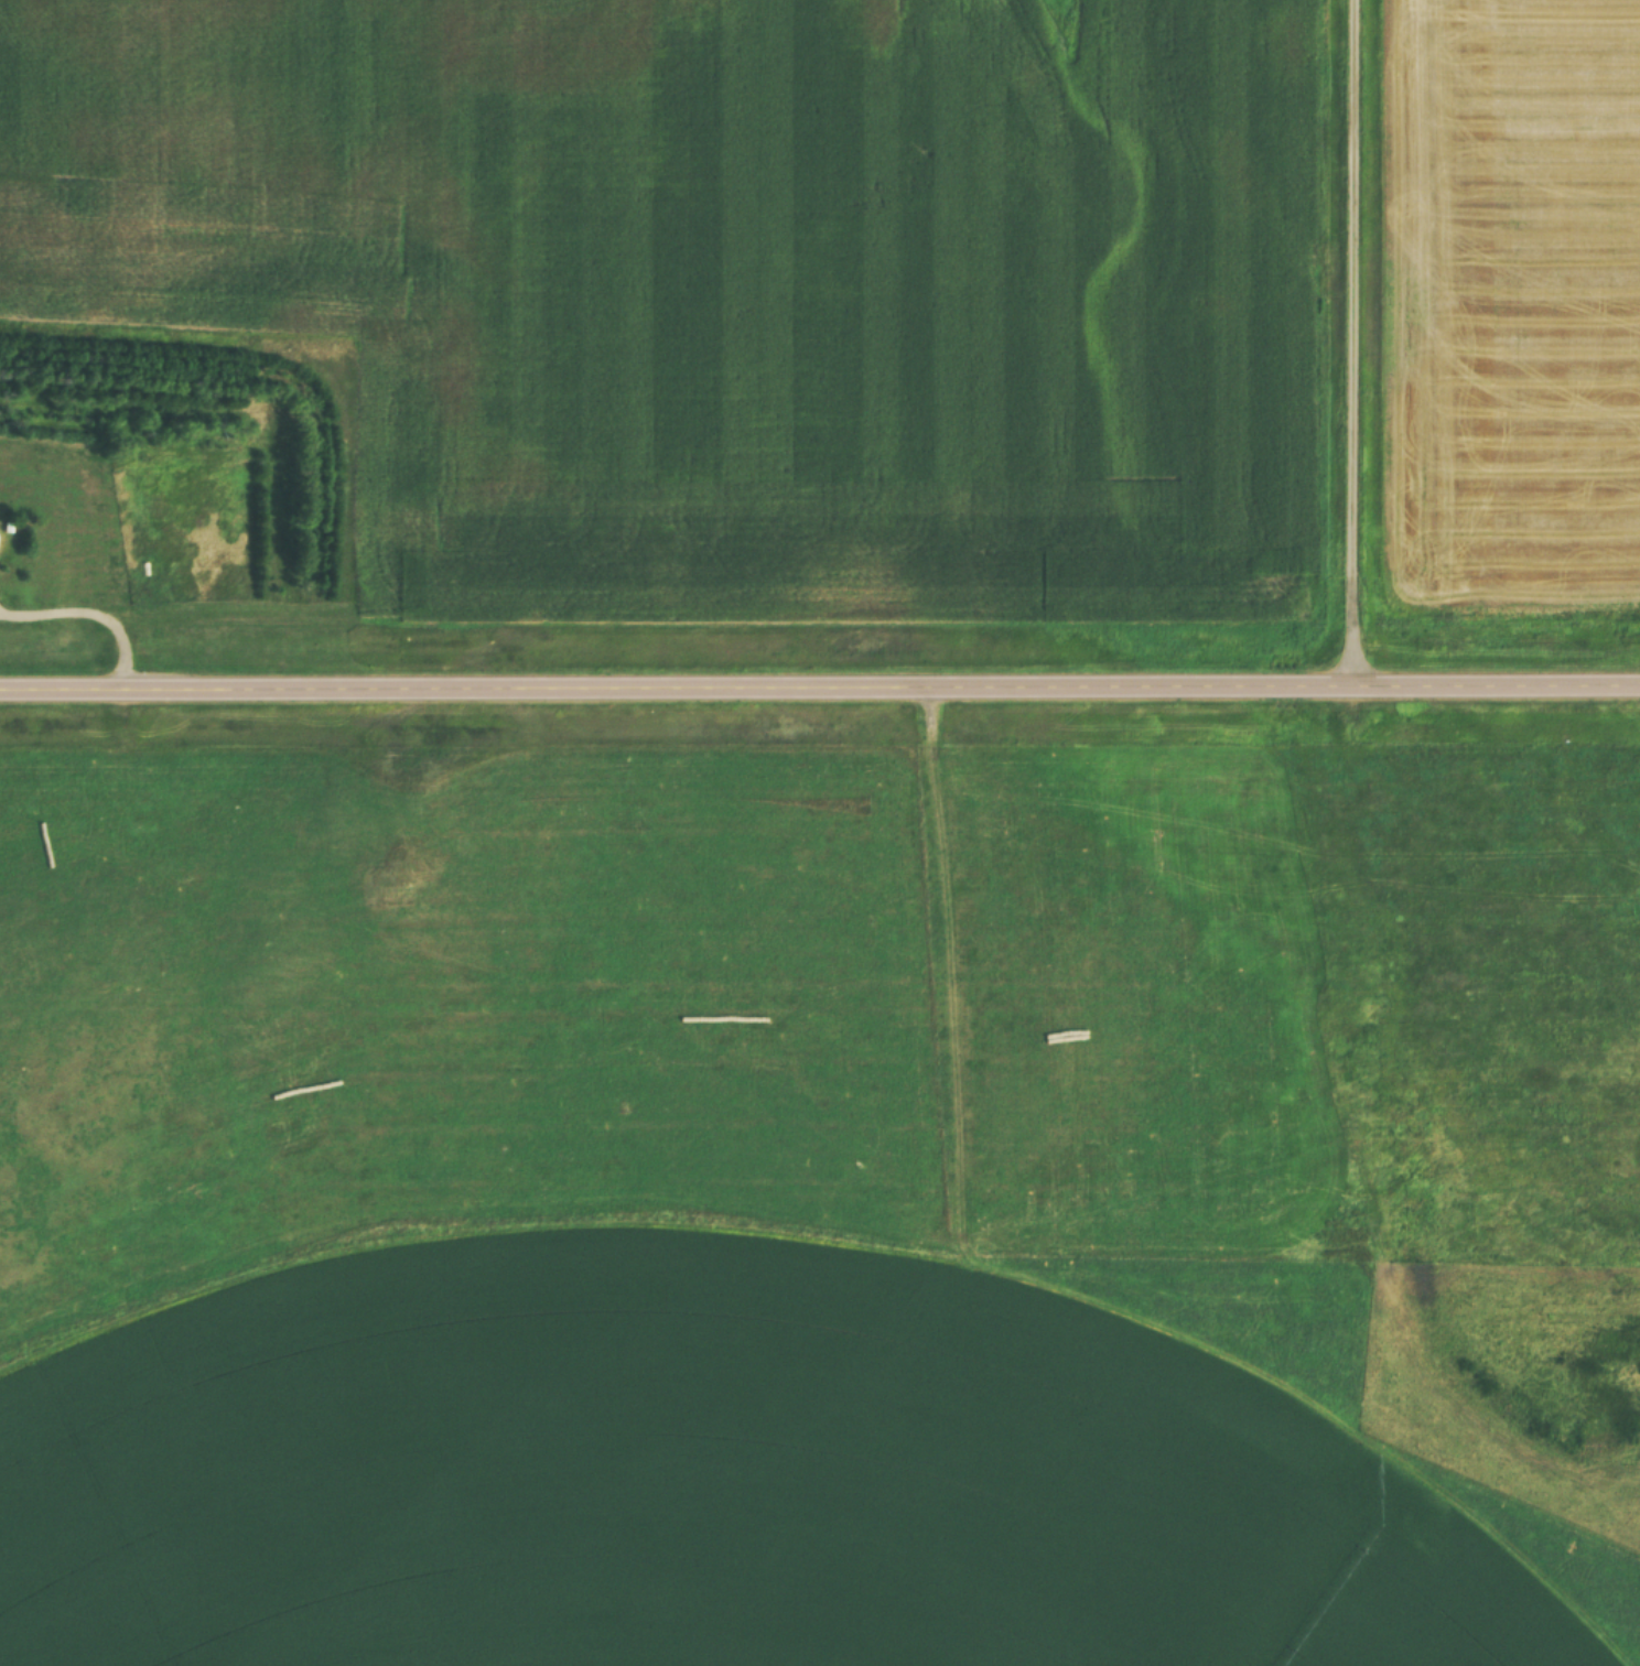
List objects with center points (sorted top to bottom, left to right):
road: (1350, 343)
road: (90, 610)
road: (820, 688)

